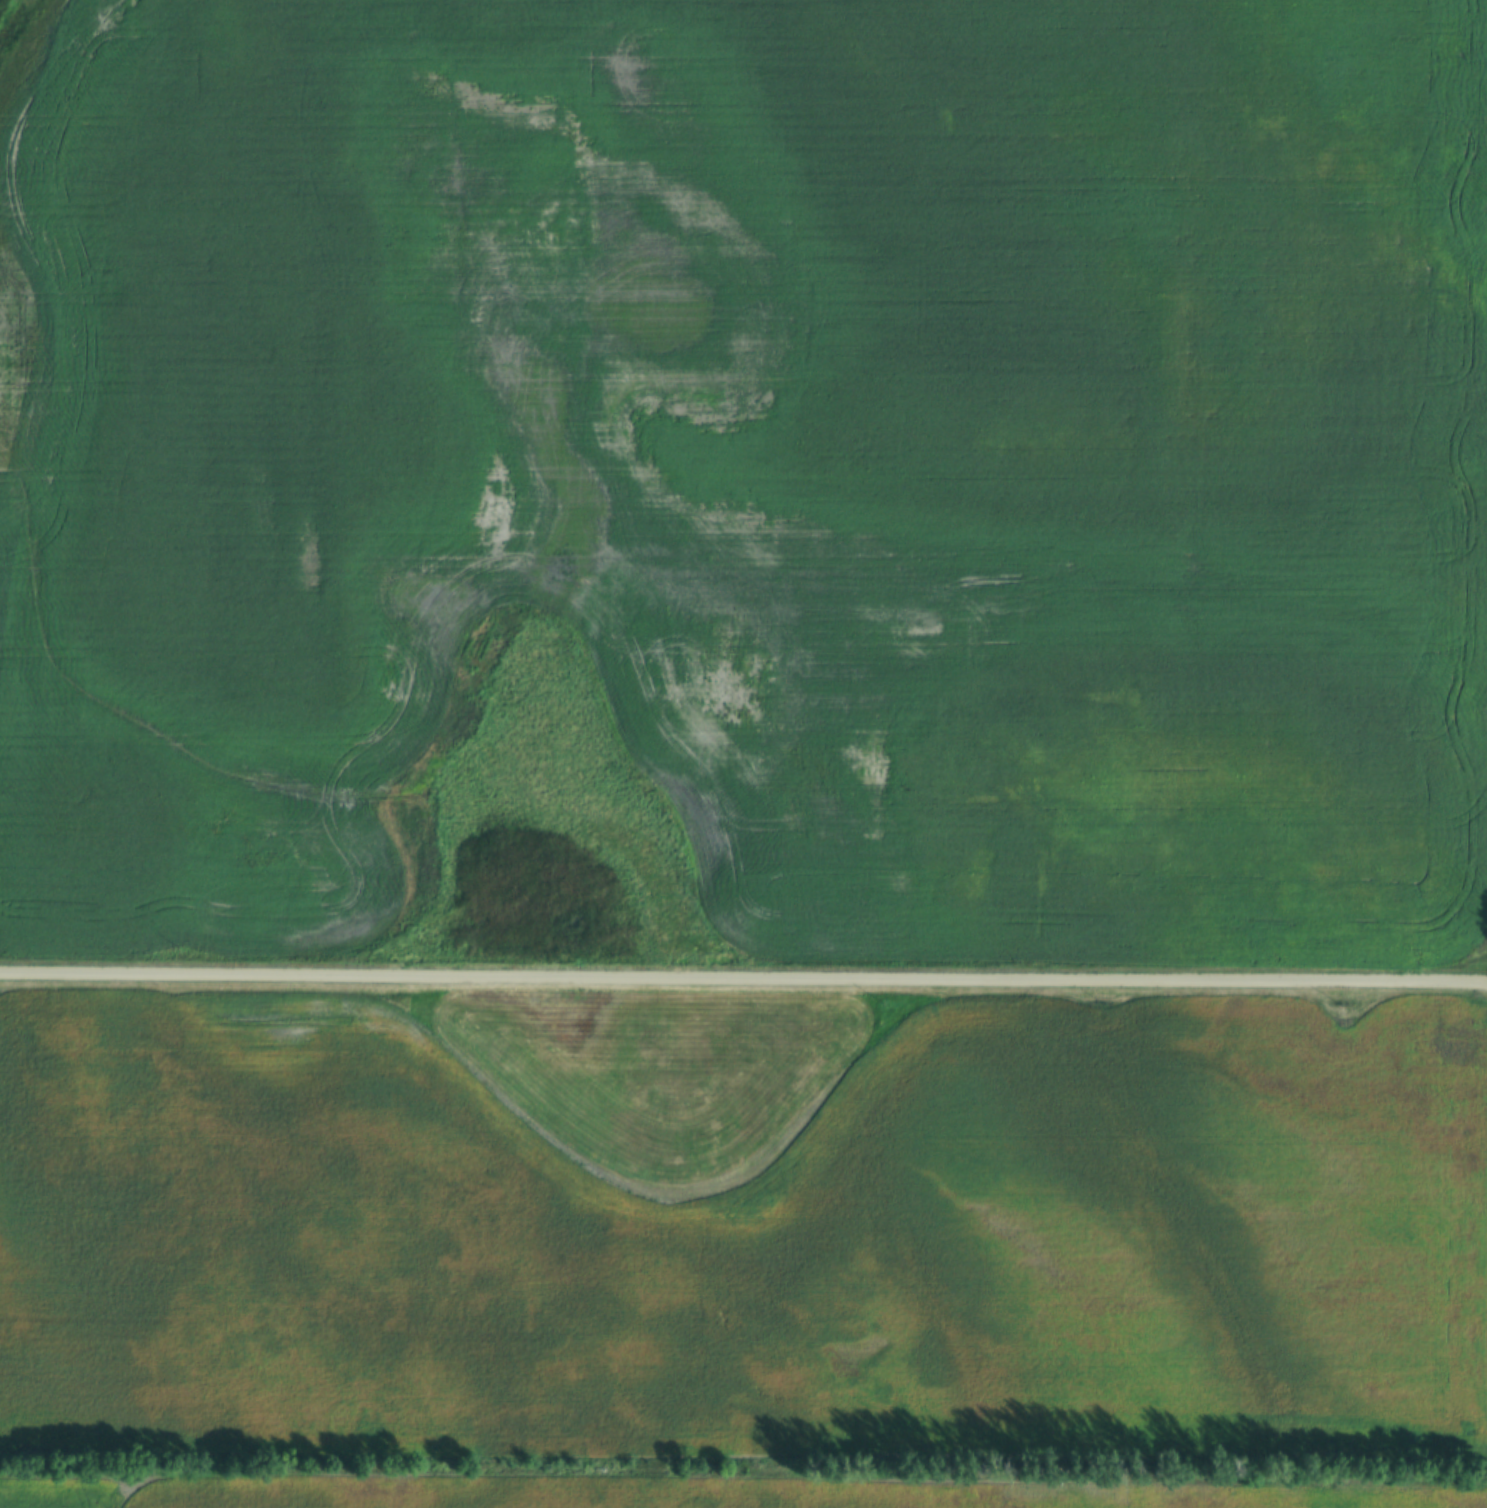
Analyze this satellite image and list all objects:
road: (743, 981)

